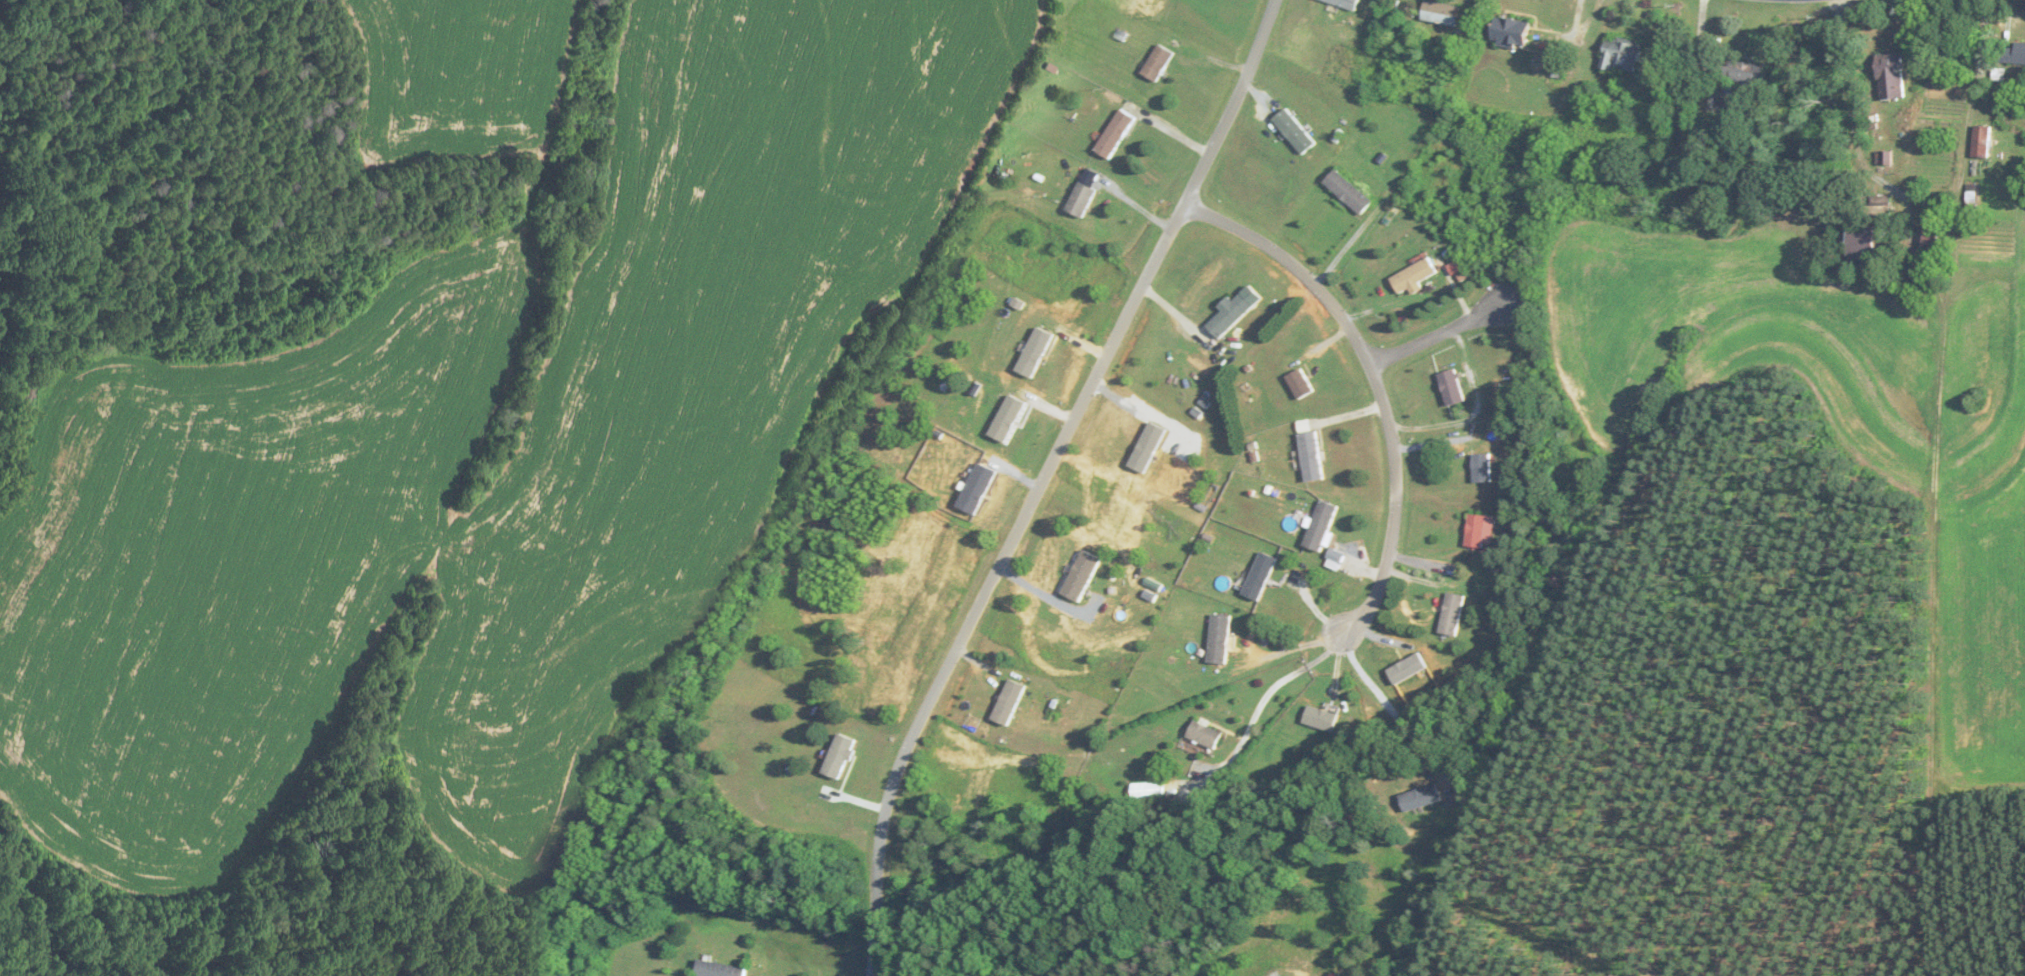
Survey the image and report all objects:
building: (1345, 3)
building: (1441, 13)
building: (1511, 33)
building: (2013, 55)
building: (1620, 56)
building: (1158, 63)
building: (1742, 72)
building: (1891, 76)
building: (1294, 132)
building: (1115, 134)
road: (1218, 141)
building: (1981, 142)
building: (2002, 156)
building: (1348, 192)
building: (1081, 200)
building: (1931, 238)
building: (1861, 243)
building: (1414, 276)
building: (1230, 315)
road: (1439, 332)
road: (1377, 379)
building: (1300, 384)
building: (1451, 388)
building: (1311, 456)
building: (1481, 468)
building: (1321, 526)
building: (1476, 531)
building: (1081, 576)
building: (1554, 582)
building: (1452, 614)
road: (980, 618)
building: (1219, 640)
road: (1297, 647)
road: (1279, 682)
road: (1397, 702)
building: (1009, 703)
building: (1205, 735)
building: (839, 757)
building: (1157, 790)
building: (1420, 798)
building: (719, 969)

